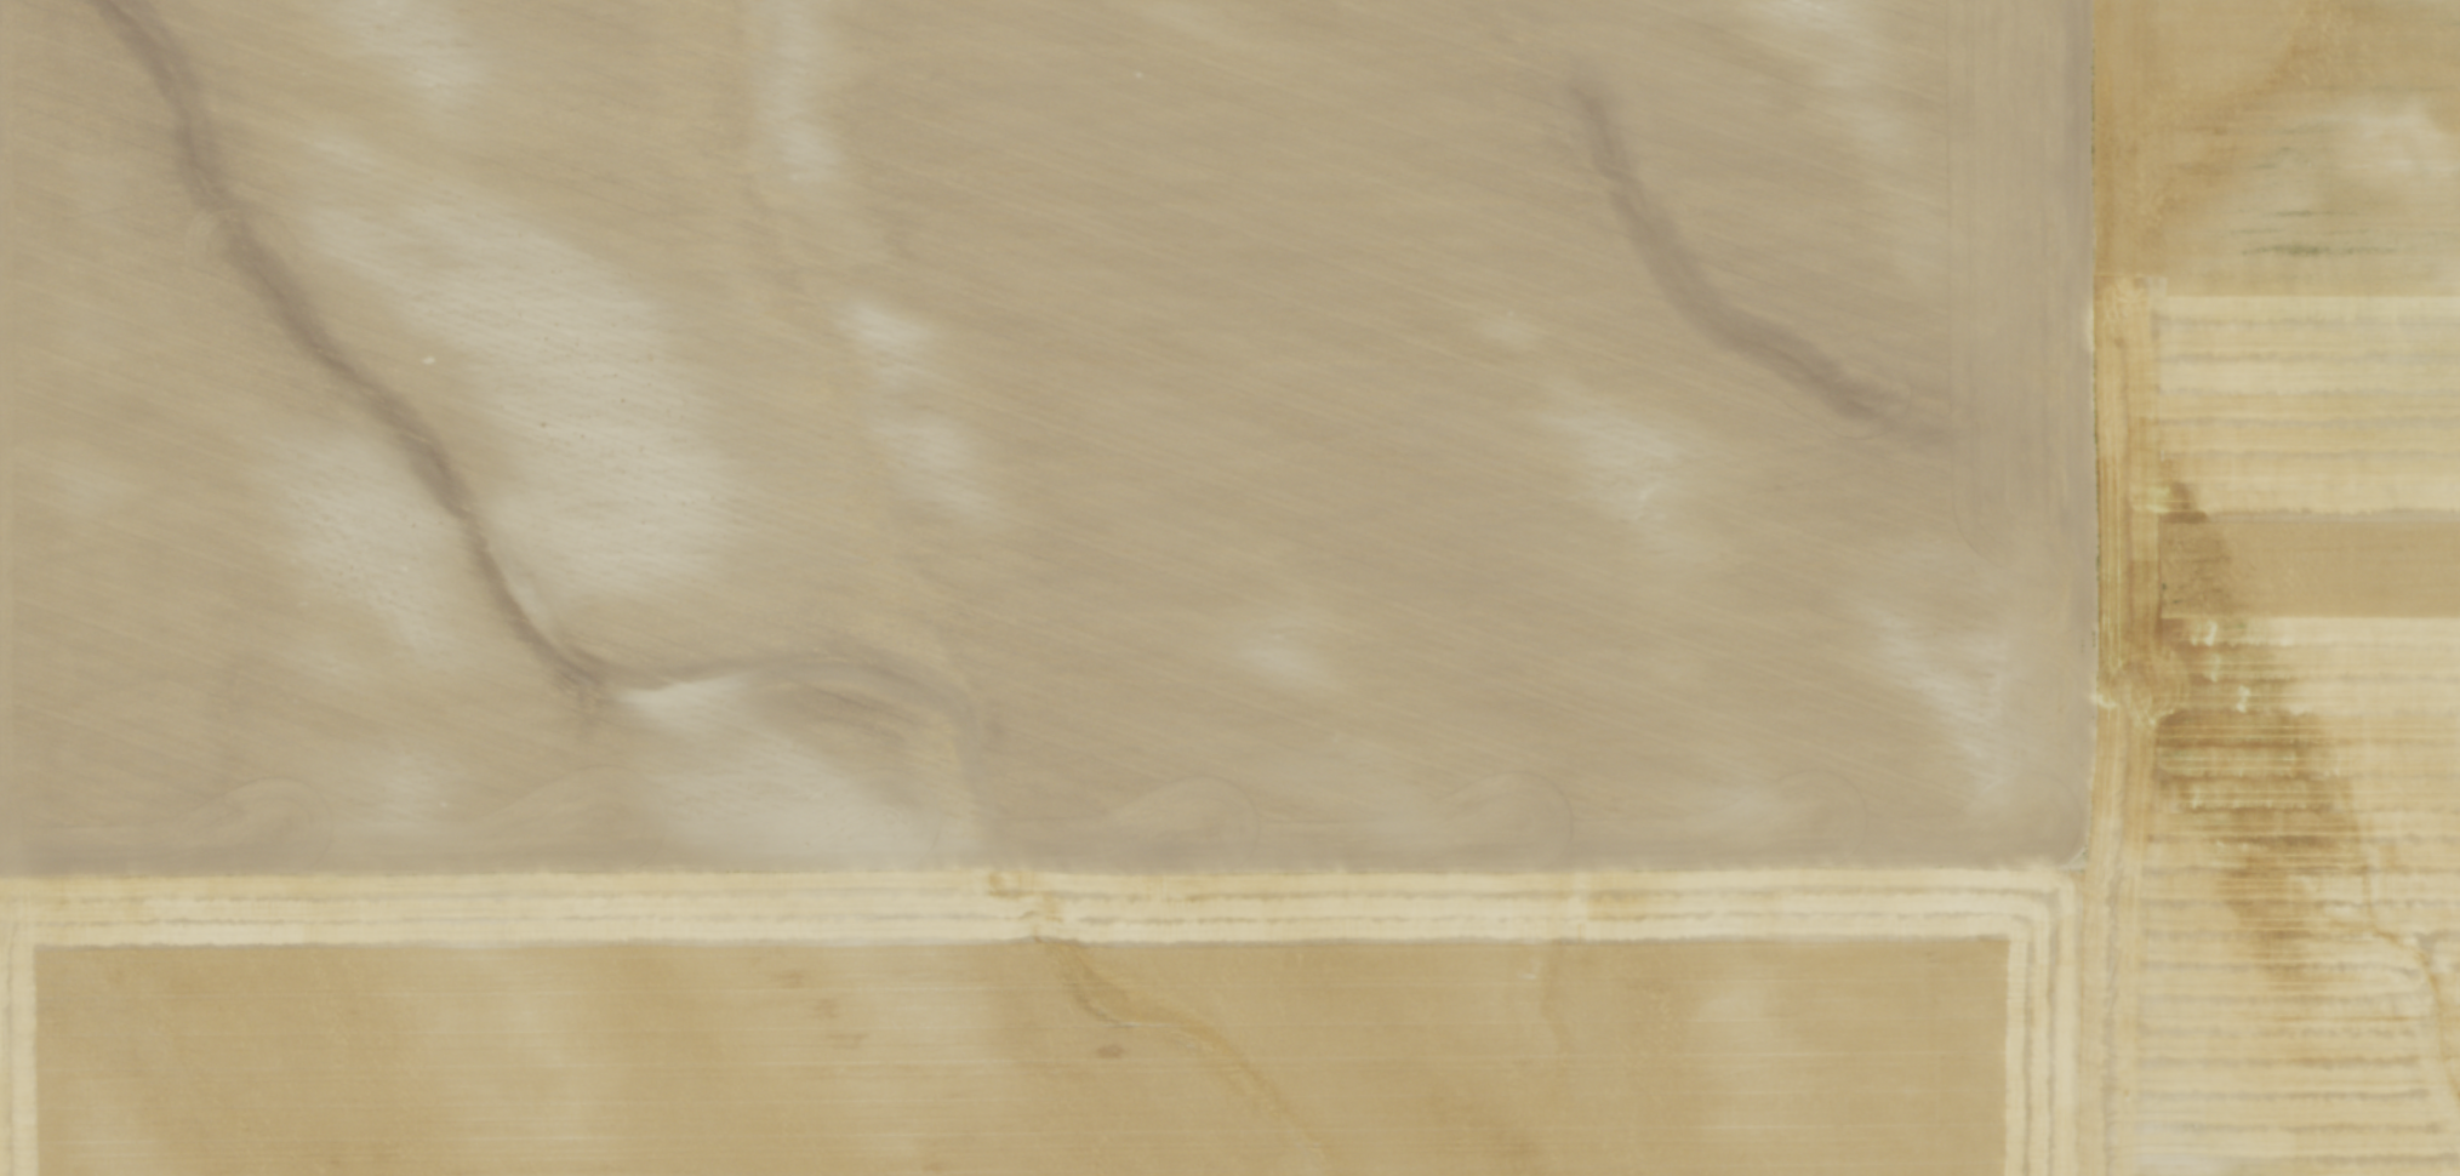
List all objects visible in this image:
crop: (1229, 588)

